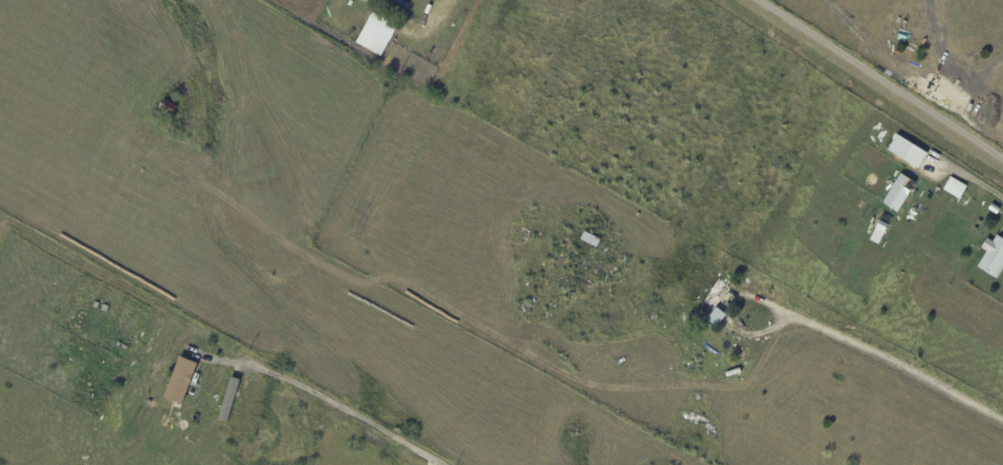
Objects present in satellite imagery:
road: (441, 9)
building: (378, 31)
road: (875, 82)
building: (167, 107)
building: (908, 151)
building: (893, 163)
road: (973, 180)
building: (951, 186)
building: (898, 192)
building: (994, 209)
building: (980, 214)
building: (978, 225)
building: (590, 239)
building: (993, 258)
building: (715, 301)
road: (888, 361)
building: (181, 378)
building: (228, 400)
road: (333, 403)

